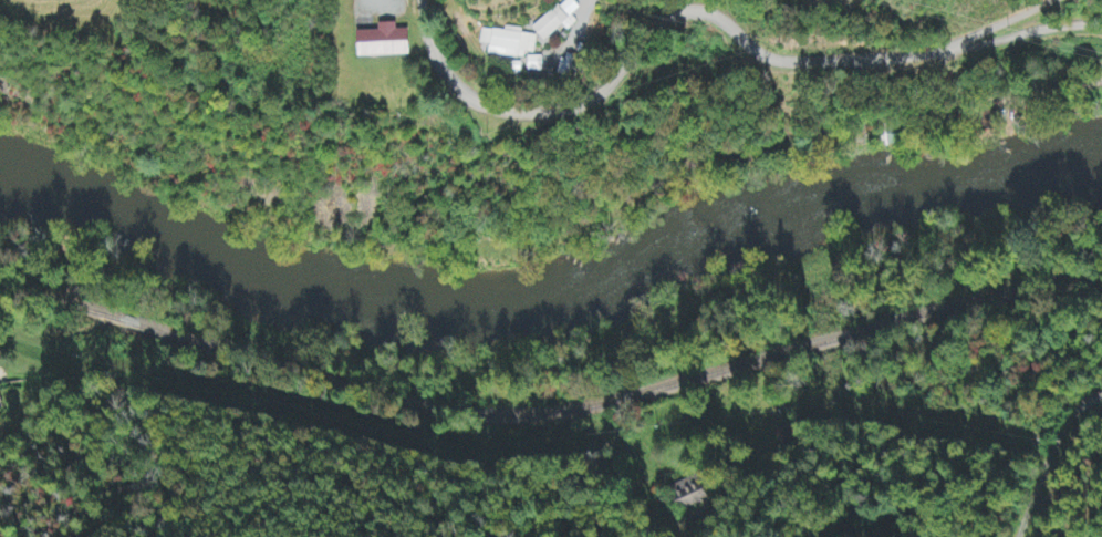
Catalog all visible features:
building: (557, 21)
building: (378, 42)
building: (508, 43)
road: (628, 55)
road: (905, 61)
river: (828, 192)
road: (480, 197)
river: (275, 255)
building: (2, 397)
railway: (551, 409)
building: (688, 495)

